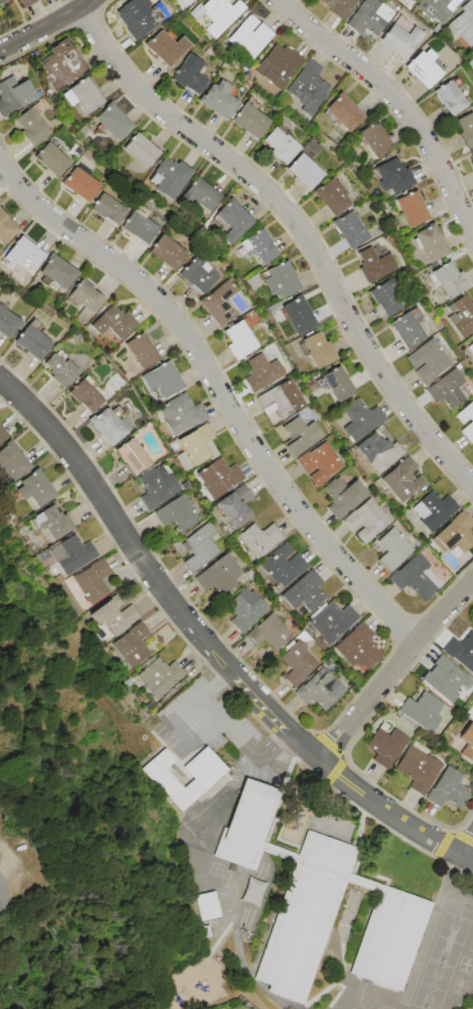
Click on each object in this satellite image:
building: (412, 0)
building: (3, 1)
building: (25, 2)
building: (187, 2)
building: (338, 7)
building: (437, 9)
building: (219, 15)
building: (369, 17)
building: (141, 20)
road: (47, 25)
building: (462, 25)
building: (248, 38)
building: (400, 40)
building: (166, 48)
building: (472, 52)
building: (60, 65)
building: (278, 65)
building: (423, 67)
building: (190, 74)
building: (306, 90)
building: (14, 95)
building: (82, 95)
building: (450, 96)
building: (220, 99)
road: (399, 103)
building: (343, 112)
building: (250, 120)
building: (112, 121)
building: (32, 125)
building: (465, 130)
building: (375, 139)
building: (280, 145)
building: (140, 150)
building: (471, 152)
building: (52, 159)
building: (304, 171)
building: (392, 176)
building: (171, 177)
building: (80, 184)
building: (200, 194)
building: (331, 196)
building: (108, 208)
building: (411, 208)
building: (233, 220)
building: (140, 227)
road: (297, 227)
building: (6, 228)
building: (350, 229)
building: (430, 242)
building: (259, 245)
building: (167, 251)
building: (25, 253)
building: (373, 265)
building: (57, 272)
building: (198, 274)
building: (279, 280)
building: (446, 280)
building: (389, 295)
building: (85, 296)
building: (219, 303)
building: (296, 314)
building: (460, 316)
building: (113, 322)
building: (7, 323)
building: (408, 327)
building: (32, 340)
building: (239, 340)
building: (472, 344)
building: (316, 349)
building: (141, 350)
building: (428, 361)
building: (60, 368)
building: (261, 372)
building: (161, 380)
building: (337, 384)
road: (221, 389)
building: (448, 389)
building: (85, 394)
building: (280, 399)
building: (181, 413)
building: (361, 418)
building: (461, 423)
building: (106, 426)
building: (2, 435)
building: (300, 436)
building: (196, 447)
building: (379, 452)
building: (131, 455)
building: (11, 463)
building: (319, 463)
building: (218, 478)
building: (403, 479)
building: (156, 487)
building: (35, 488)
building: (343, 496)
building: (235, 506)
building: (433, 510)
building: (176, 514)
building: (366, 520)
building: (53, 522)
road: (121, 524)
building: (455, 534)
building: (259, 539)
building: (200, 548)
building: (392, 548)
building: (71, 554)
building: (280, 567)
building: (218, 575)
building: (416, 577)
building: (93, 580)
building: (304, 592)
building: (245, 609)
road: (443, 614)
building: (114, 617)
building: (332, 621)
building: (471, 621)
building: (268, 632)
building: (131, 645)
building: (358, 647)
building: (461, 650)
building: (297, 663)
building: (159, 676)
building: (445, 678)
road: (215, 680)
building: (320, 690)
road: (368, 702)
road: (209, 706)
building: (422, 711)
road: (278, 718)
road: (198, 738)
road: (273, 739)
building: (467, 742)
building: (384, 747)
building: (204, 768)
building: (418, 769)
building: (169, 780)
building: (448, 789)
road: (391, 807)
road: (466, 845)
road: (466, 858)
road: (0, 890)
building: (319, 904)
building: (207, 906)

